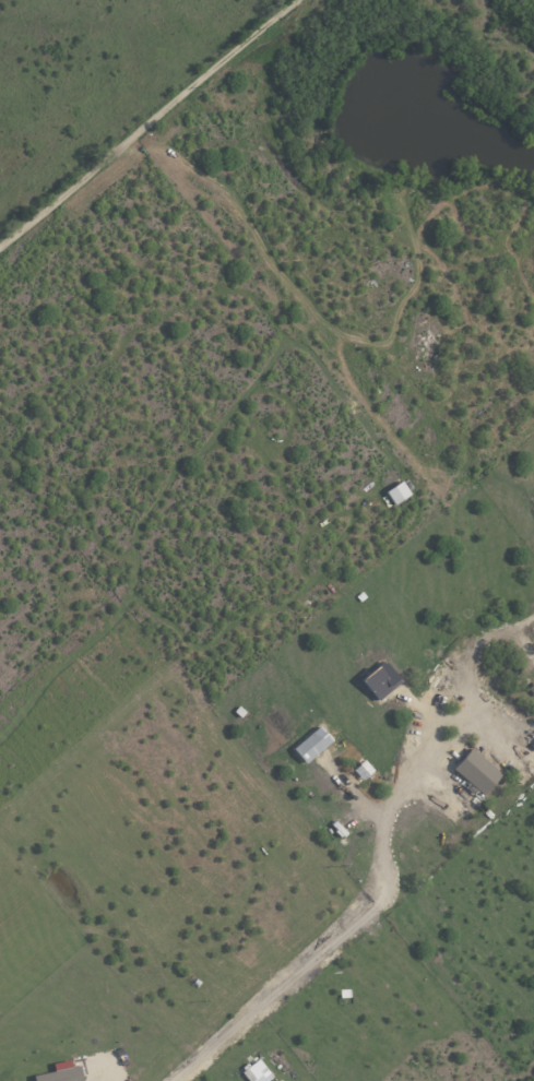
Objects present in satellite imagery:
road: (146, 122)
building: (397, 492)
building: (379, 679)
building: (311, 744)
building: (363, 769)
building: (476, 771)
road: (332, 926)
building: (61, 1074)

